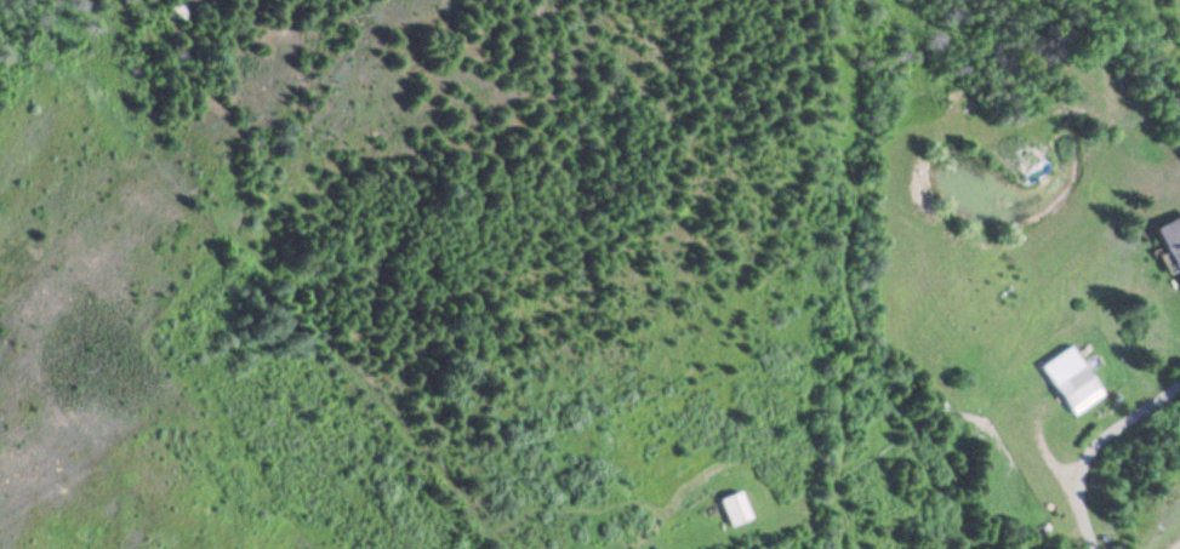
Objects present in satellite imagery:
building: (1170, 242)
building: (1068, 382)
building: (729, 511)

